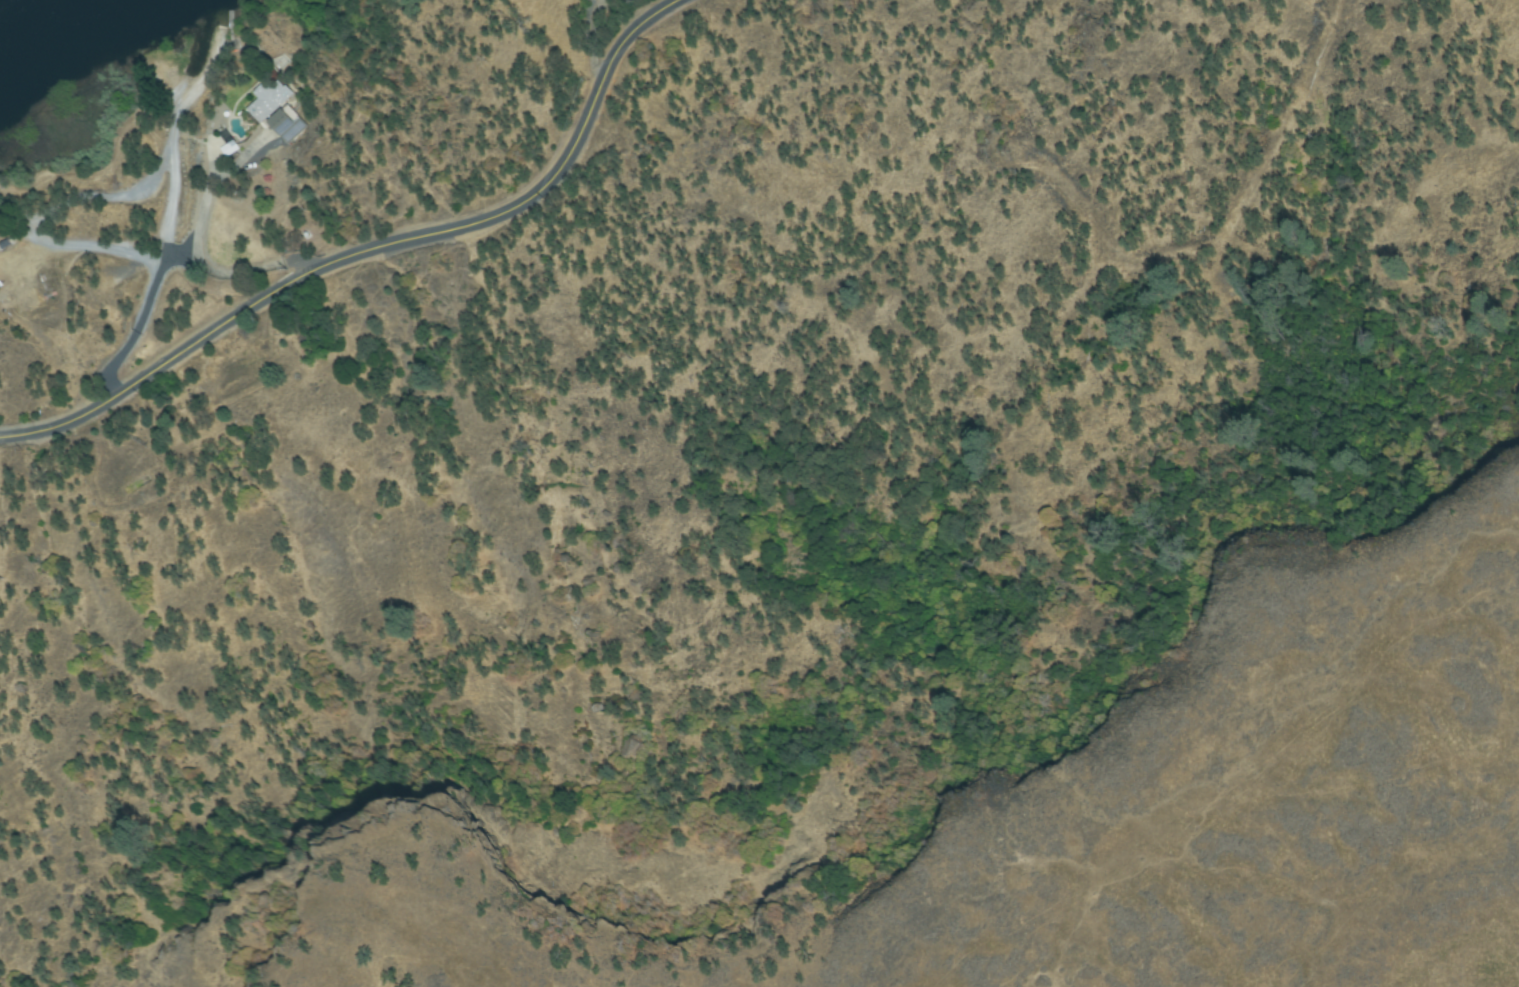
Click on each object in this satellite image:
building: (268, 110)
building: (287, 126)
road: (26, 238)
road: (164, 253)
building: (2, 254)
road: (380, 259)
road: (207, 288)
building: (564, 595)

